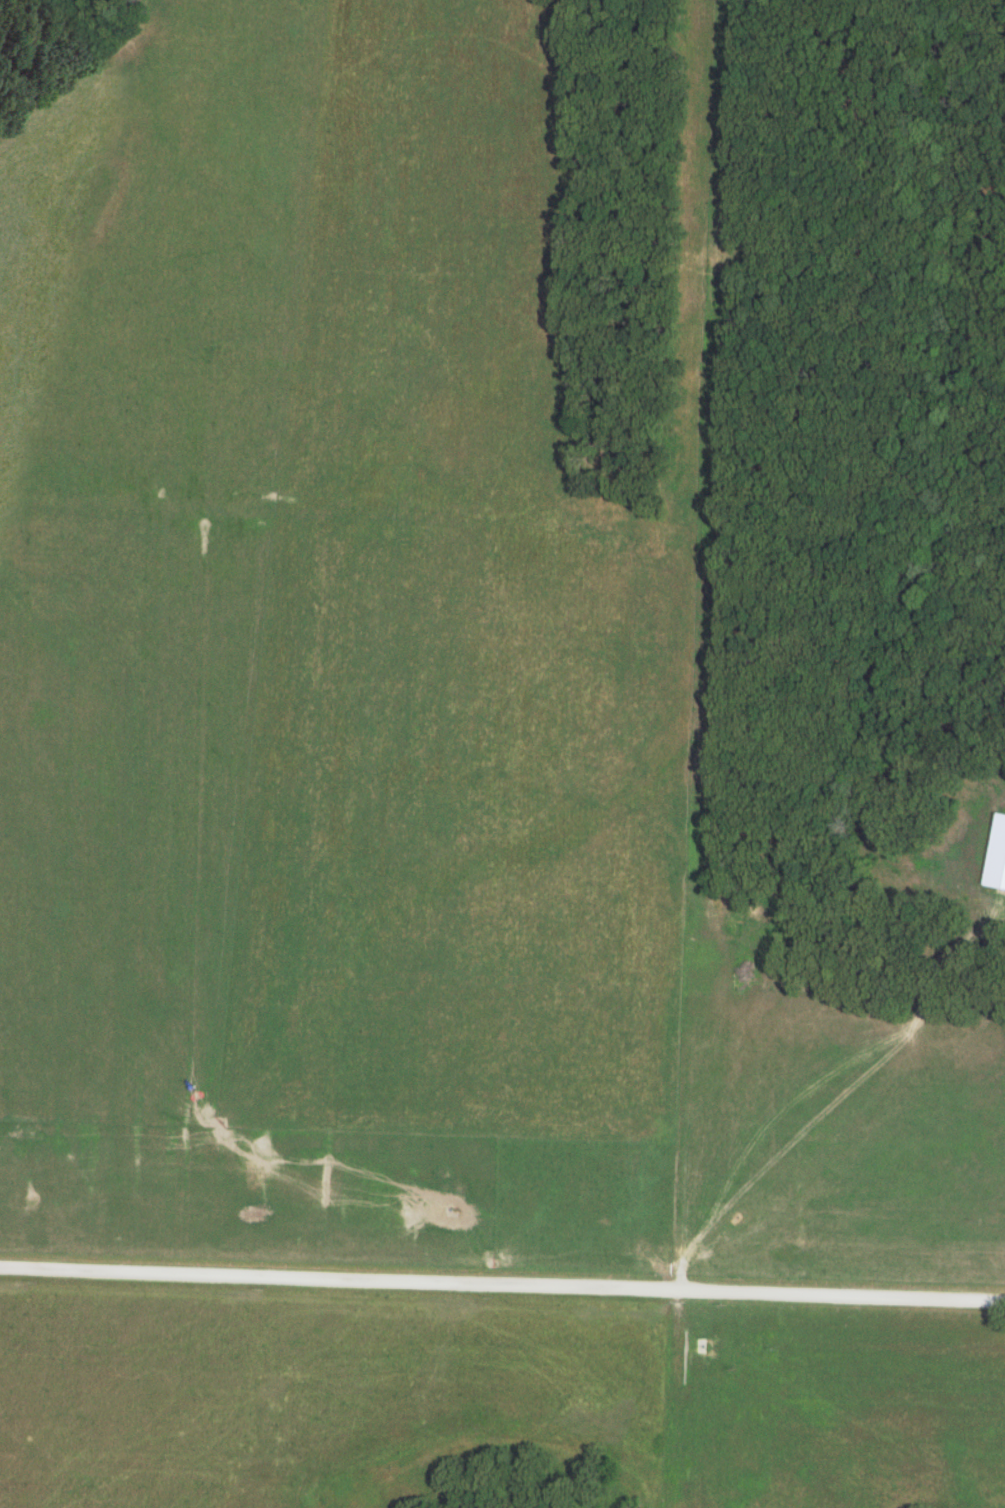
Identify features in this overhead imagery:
building: (996, 854)
road: (502, 1278)

